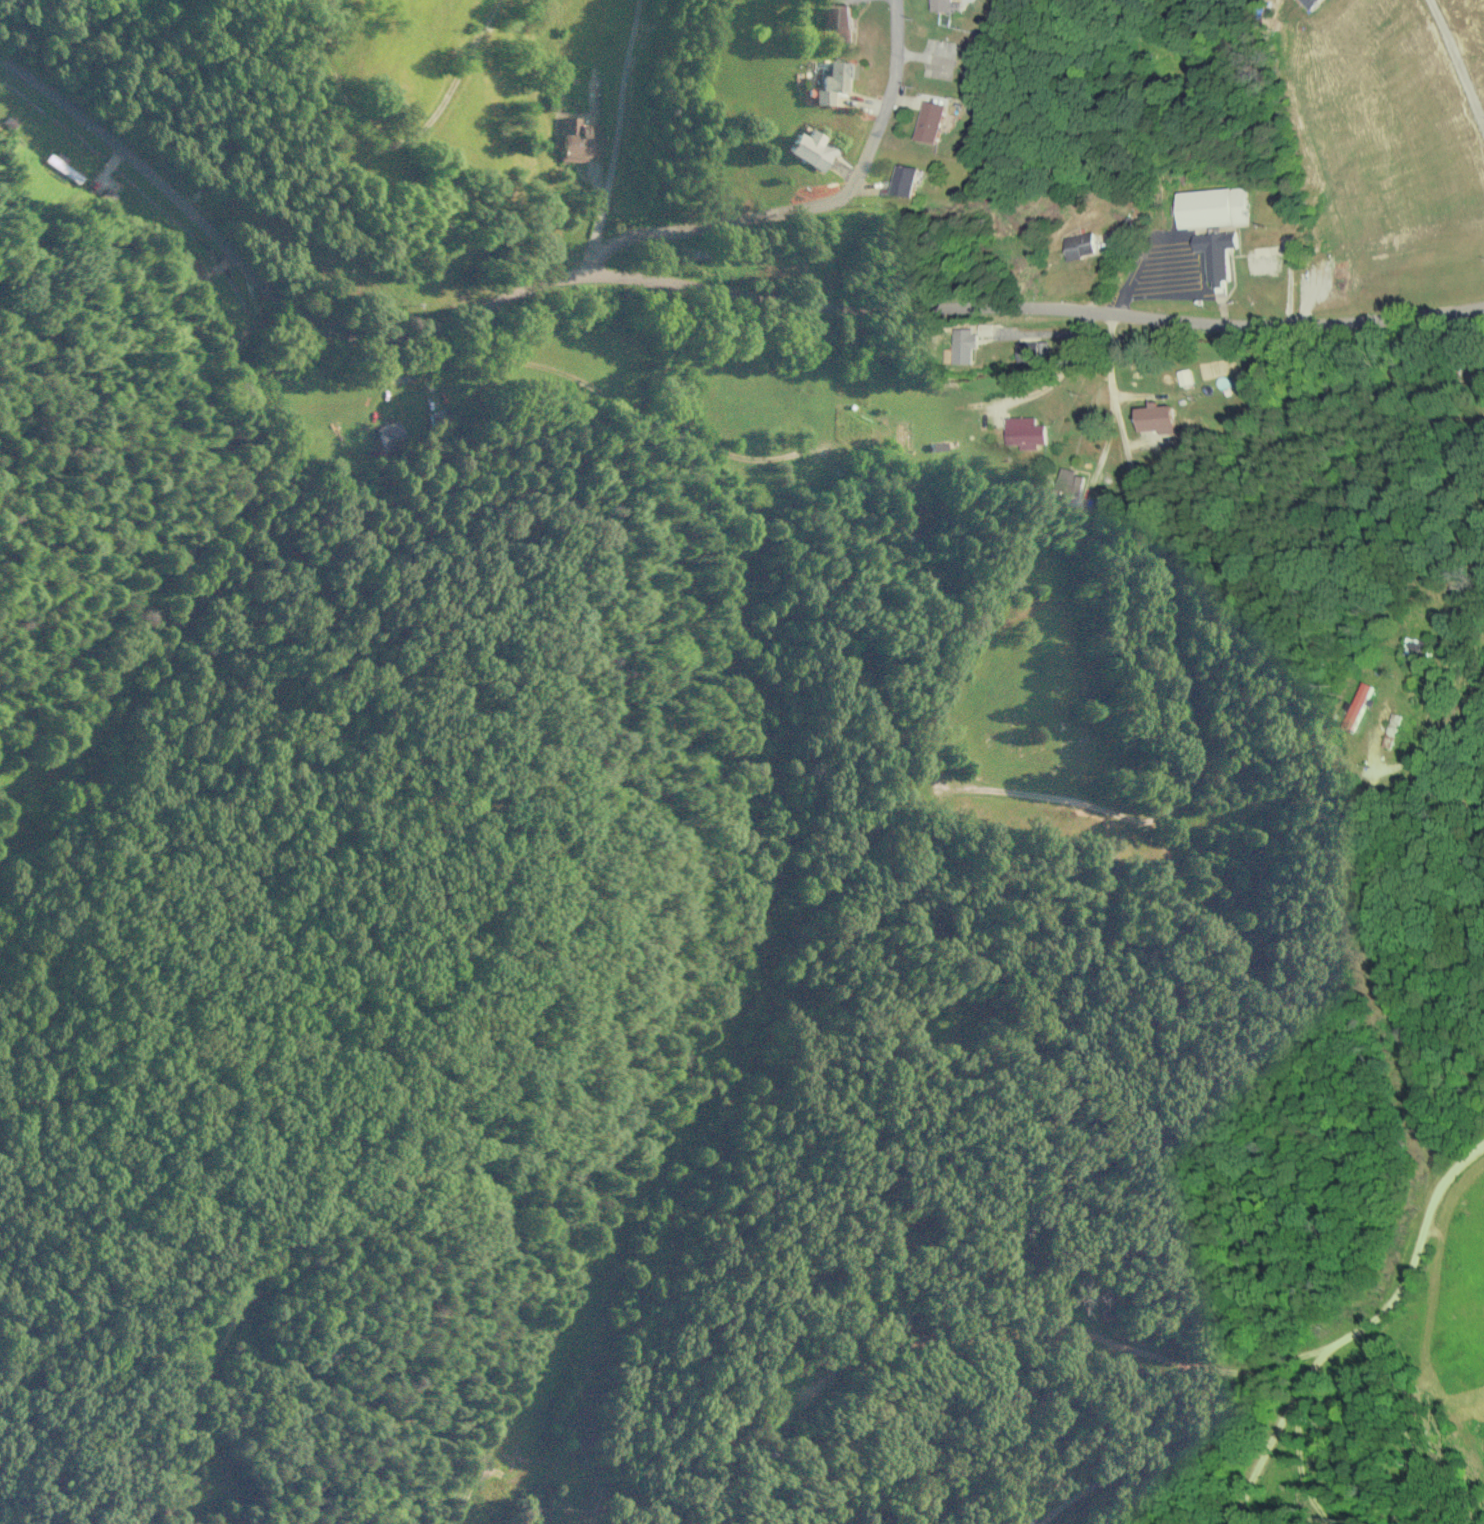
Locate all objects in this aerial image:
building: (1312, 3)
building: (945, 5)
building: (841, 23)
building: (831, 80)
building: (929, 121)
building: (578, 139)
building: (810, 150)
building: (905, 180)
road: (808, 207)
building: (1213, 207)
building: (1080, 245)
building: (1217, 254)
road: (262, 283)
road: (1032, 301)
building: (963, 346)
building: (1029, 352)
building: (1155, 417)
building: (1025, 432)
building: (388, 435)
building: (1070, 481)
road: (1131, 493)
building: (1357, 706)
road: (1372, 1324)

